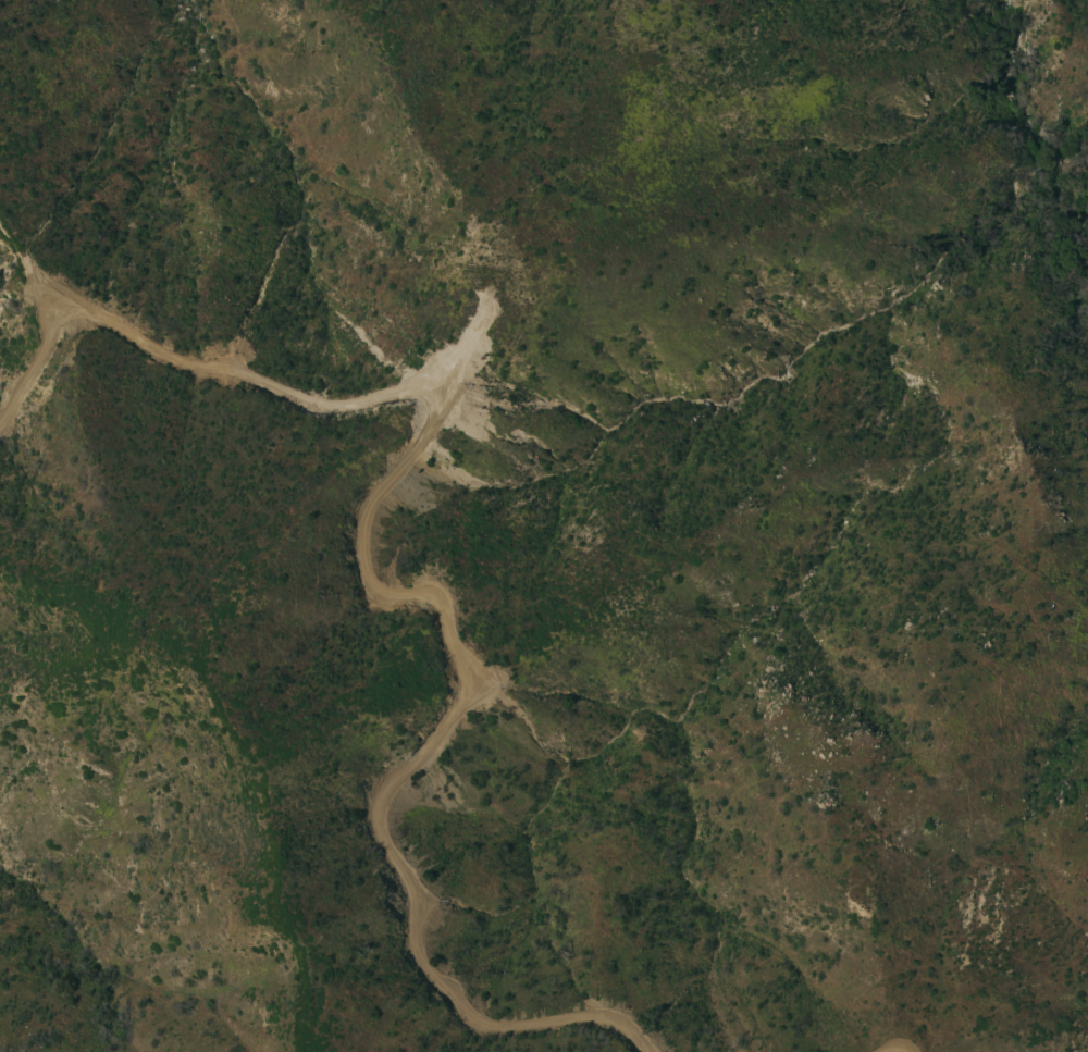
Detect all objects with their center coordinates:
road: (25, 273)
road: (54, 311)
road: (375, 586)
road: (470, 680)
road: (890, 1048)

